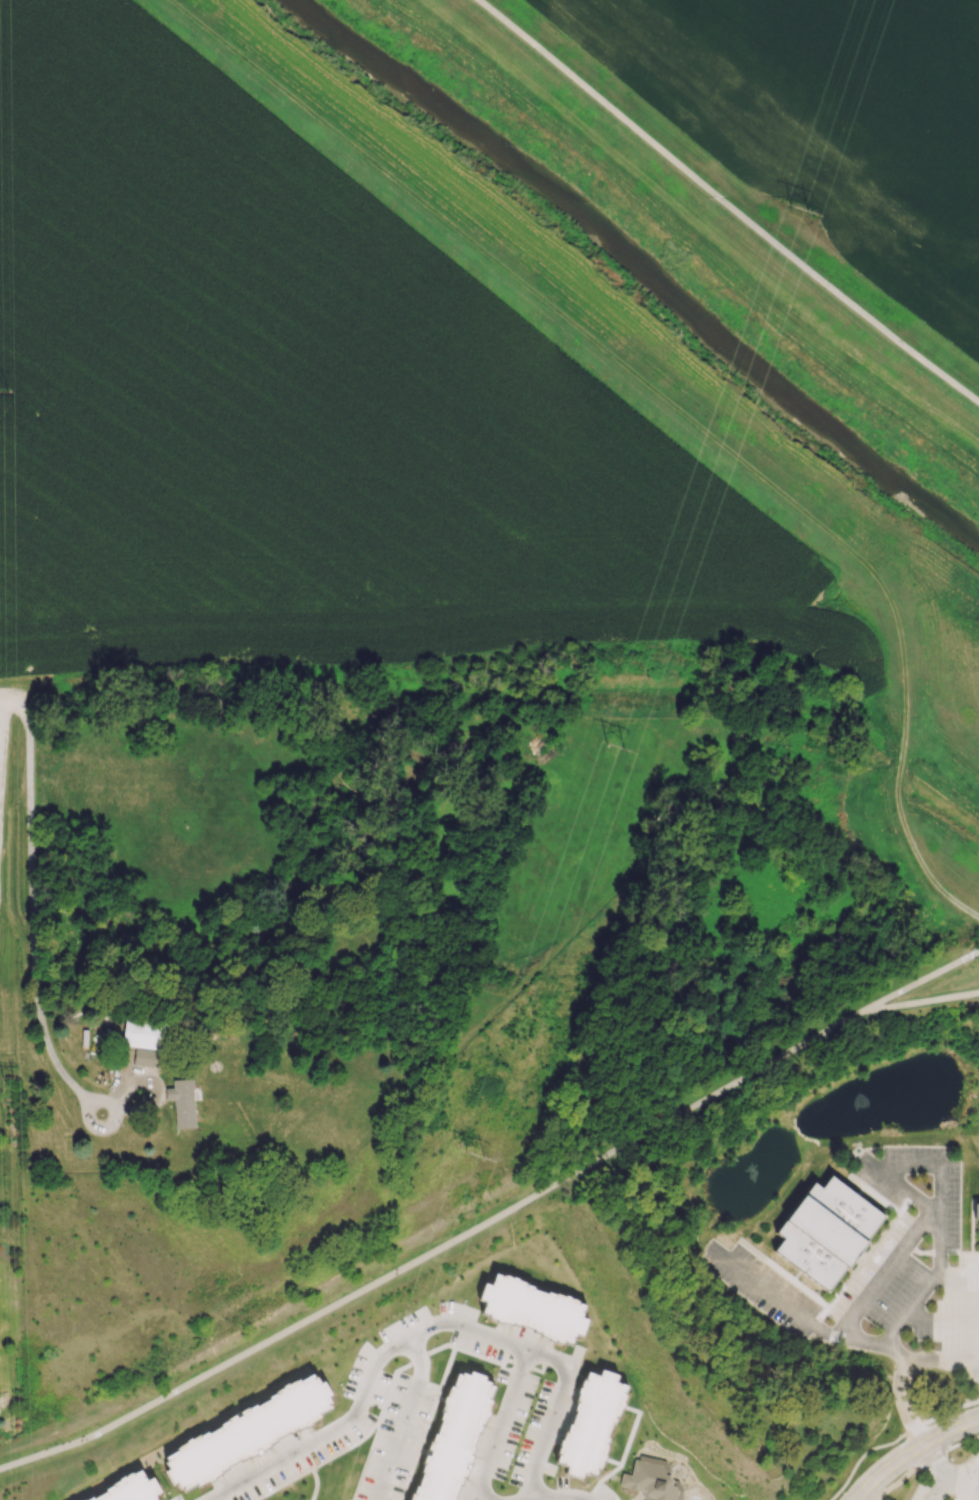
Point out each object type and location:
road: (727, 202)
power tower: (798, 203)
road: (490, 258)
river: (640, 267)
power tower: (10, 393)
crop: (309, 406)
road: (125, 697)
road: (16, 698)
road: (906, 714)
power tower: (623, 729)
road: (32, 739)
road: (5, 783)
road: (923, 980)
road: (37, 995)
road: (923, 1001)
building: (144, 1032)
building: (145, 1057)
power tower: (11, 1080)
building: (182, 1102)
fountain: (858, 1106)
power tower: (483, 1137)
road: (932, 1164)
fountain: (752, 1172)
building: (977, 1212)
building: (829, 1234)
road: (437, 1247)
parking lot: (885, 1270)
road: (966, 1278)
road: (779, 1299)
road: (863, 1300)
building: (534, 1308)
road: (909, 1309)
road: (942, 1319)
road: (415, 1333)
road: (900, 1392)
road: (554, 1413)
road: (403, 1416)
building: (592, 1424)
building: (4, 1431)
building: (248, 1432)
building: (453, 1436)
road: (895, 1439)
road: (954, 1448)
road: (911, 1451)
road: (311, 1466)
road: (966, 1468)
road: (901, 1477)
building: (652, 1479)
parking lot: (953, 1484)
road: (960, 1486)
road: (938, 1488)
building: (129, 1489)
road: (564, 1496)
road: (206, 1499)

